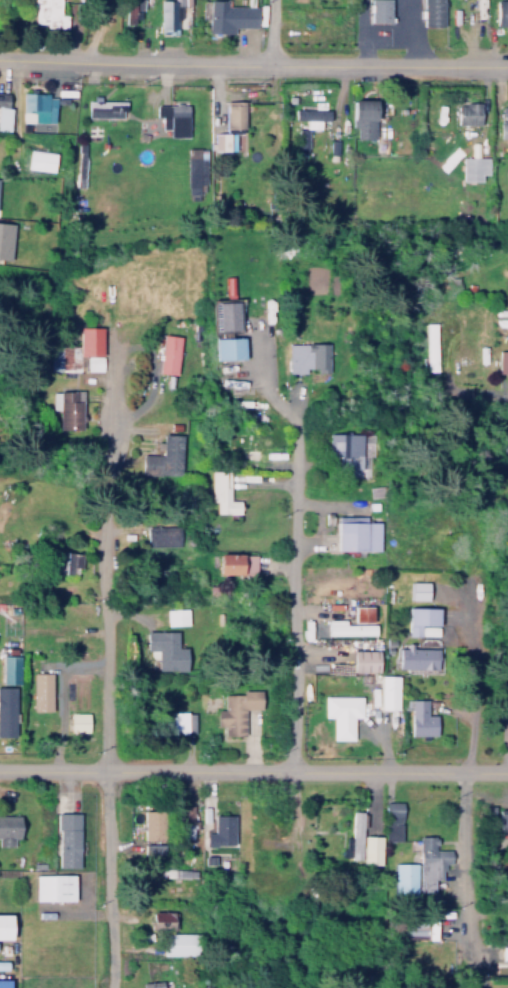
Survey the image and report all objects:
building: (379, 10)
building: (432, 12)
building: (48, 13)
building: (230, 14)
road: (96, 28)
road: (270, 31)
road: (253, 61)
building: (36, 107)
building: (104, 108)
building: (469, 111)
building: (312, 113)
building: (364, 115)
building: (172, 118)
building: (504, 119)
building: (233, 125)
building: (40, 160)
building: (471, 168)
building: (194, 170)
building: (5, 242)
building: (229, 316)
building: (430, 346)
building: (78, 347)
building: (229, 348)
building: (168, 354)
building: (306, 357)
building: (501, 361)
road: (480, 393)
building: (67, 404)
building: (507, 433)
building: (240, 442)
building: (345, 449)
building: (162, 452)
building: (221, 489)
building: (355, 529)
building: (160, 532)
building: (236, 561)
building: (69, 563)
building: (418, 586)
road: (293, 591)
building: (422, 617)
building: (352, 619)
building: (166, 650)
building: (416, 654)
building: (363, 656)
building: (9, 664)
road: (106, 688)
building: (387, 690)
building: (505, 690)
building: (41, 691)
building: (52, 696)
road: (466, 702)
building: (352, 704)
building: (507, 704)
building: (6, 706)
building: (236, 710)
building: (418, 713)
building: (211, 715)
building: (180, 717)
building: (77, 718)
road: (254, 767)
building: (392, 809)
building: (186, 817)
building: (150, 821)
building: (504, 822)
building: (7, 824)
building: (219, 826)
building: (391, 832)
building: (66, 836)
building: (352, 838)
building: (152, 845)
building: (371, 850)
road: (464, 854)
building: (206, 856)
building: (430, 862)
building: (176, 869)
building: (405, 877)
building: (52, 883)
building: (159, 916)
building: (4, 922)
building: (179, 939)
building: (2, 961)
building: (3, 981)
building: (151, 983)
building: (506, 985)

